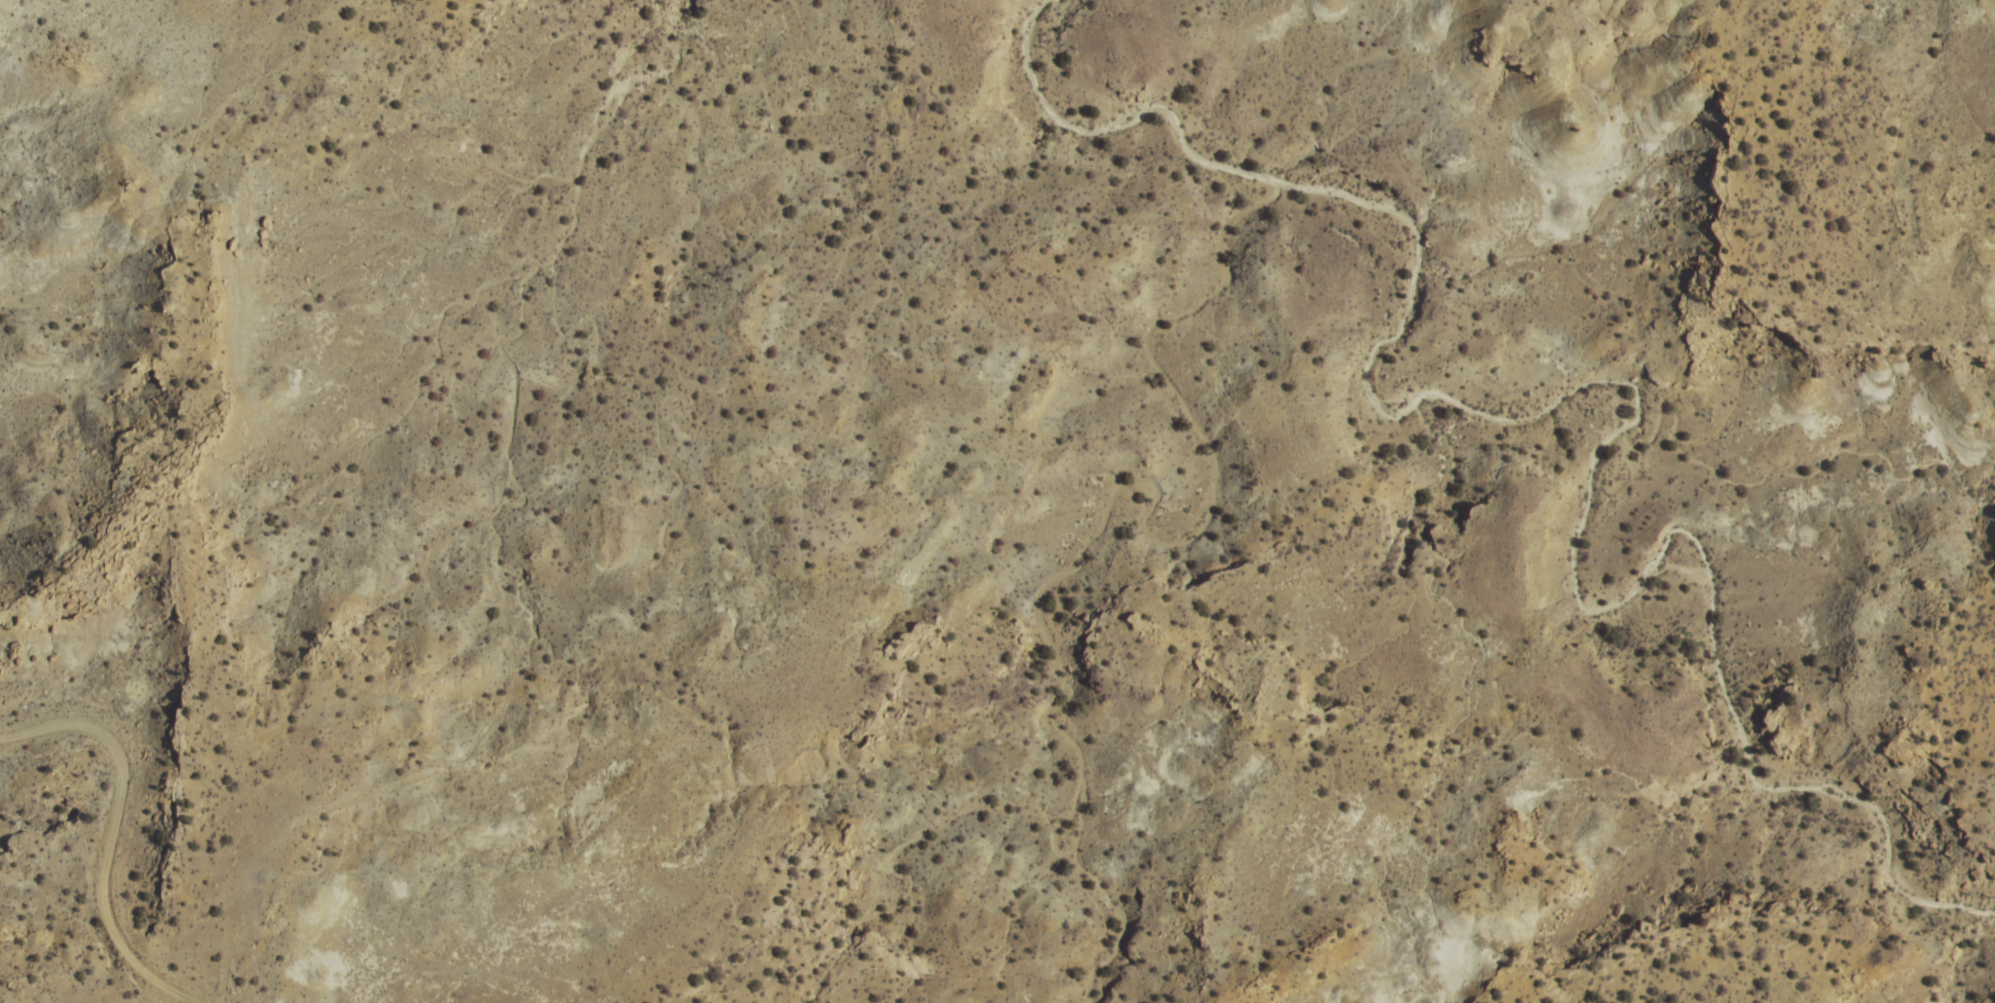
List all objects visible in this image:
road: (458, 479)

